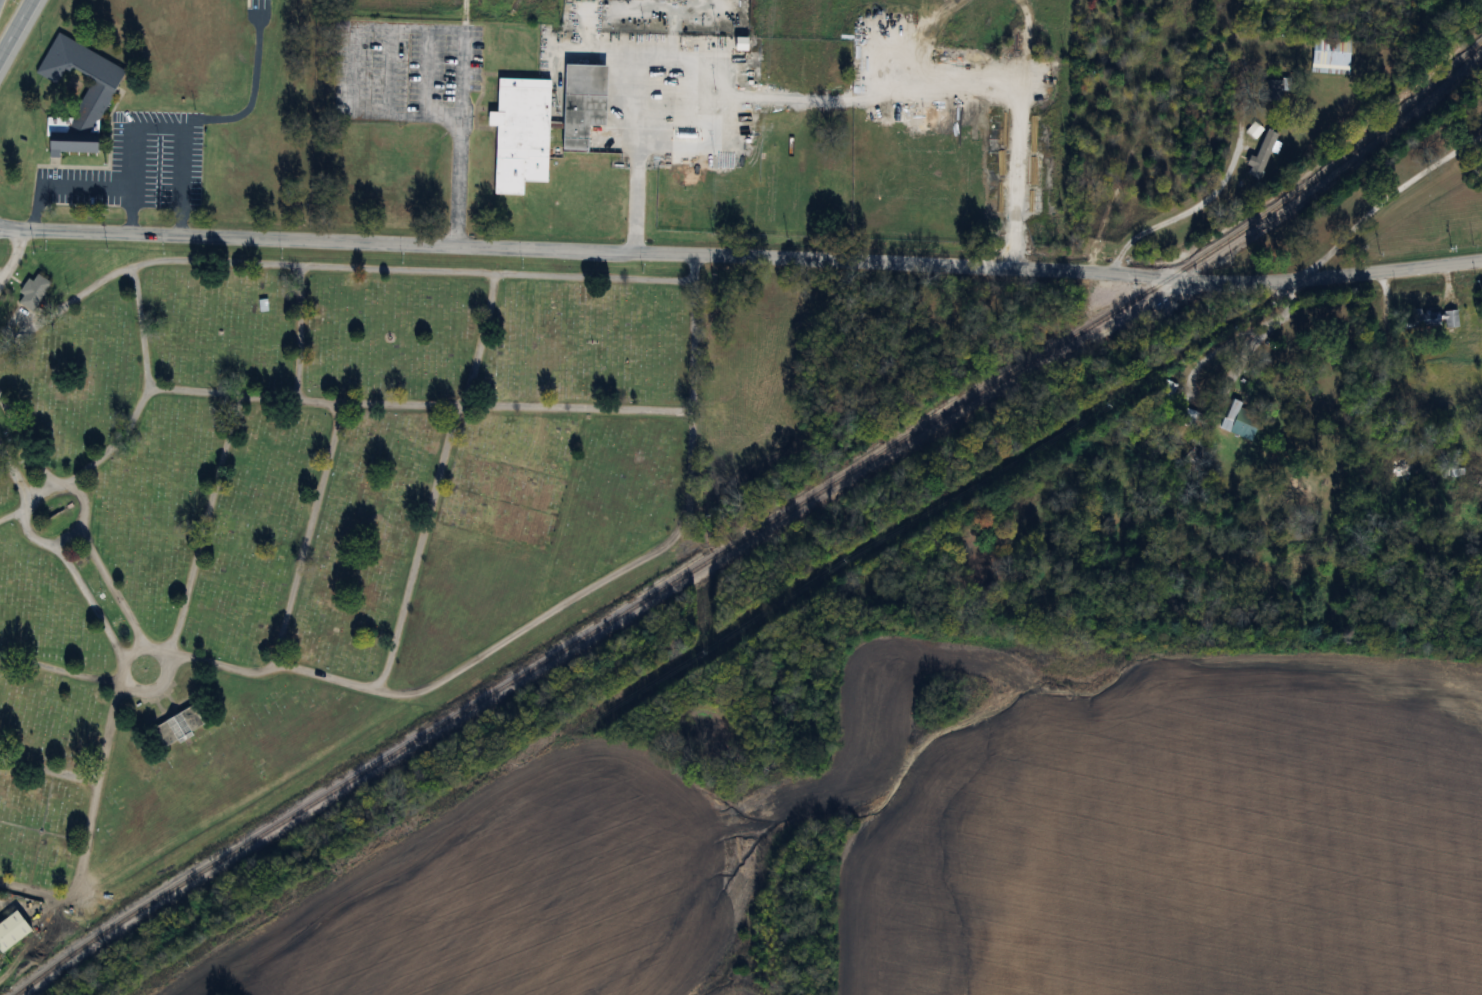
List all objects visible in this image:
road: (14, 25)
building: (1330, 55)
building: (104, 81)
building: (1272, 90)
road: (722, 95)
road: (1016, 97)
building: (542, 123)
road: (179, 125)
building: (1253, 130)
road: (457, 140)
building: (1261, 155)
road: (84, 181)
road: (632, 199)
road: (1380, 203)
road: (1175, 219)
road: (741, 256)
building: (32, 292)
building: (1450, 318)
building: (1421, 320)
road: (1217, 393)
building: (1189, 417)
building: (1239, 420)
building: (1391, 459)
park: (322, 506)
railway: (757, 529)
building: (177, 727)
building: (12, 931)

